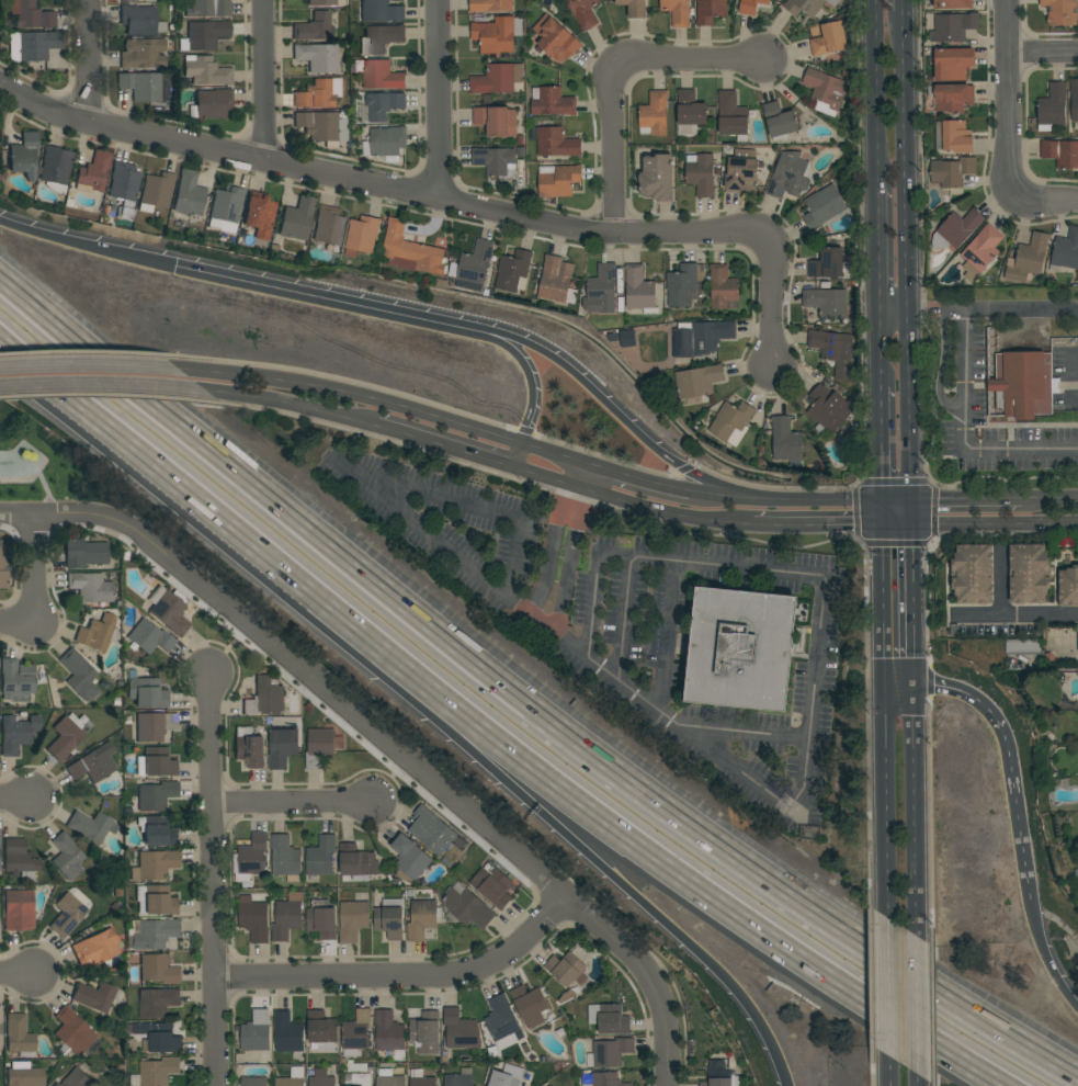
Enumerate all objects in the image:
building: (127, 0)
building: (322, 2)
building: (953, 3)
building: (490, 5)
building: (750, 5)
road: (903, 5)
building: (806, 7)
building: (634, 8)
building: (209, 9)
building: (381, 11)
building: (710, 11)
building: (583, 12)
building: (677, 12)
building: (1060, 12)
building: (33, 15)
building: (140, 20)
building: (314, 27)
building: (953, 27)
building: (204, 35)
building: (496, 35)
building: (835, 36)
building: (381, 38)
building: (556, 39)
building: (32, 45)
building: (143, 54)
road: (1043, 54)
building: (317, 57)
road: (693, 58)
road: (88, 63)
building: (953, 64)
building: (206, 71)
building: (378, 75)
building: (497, 79)
road: (264, 80)
building: (146, 86)
building: (826, 90)
road: (1008, 91)
building: (319, 93)
road: (875, 94)
building: (951, 98)
building: (1074, 99)
road: (438, 100)
building: (552, 102)
building: (214, 103)
building: (383, 105)
building: (1052, 108)
building: (690, 109)
building: (654, 114)
building: (733, 116)
building: (496, 121)
building: (780, 122)
building: (324, 126)
building: (953, 137)
building: (385, 143)
building: (554, 143)
road: (615, 146)
building: (1060, 152)
building: (24, 155)
building: (496, 161)
building: (56, 168)
building: (93, 172)
building: (741, 172)
building: (951, 172)
building: (700, 173)
building: (788, 176)
building: (657, 178)
building: (558, 180)
building: (124, 183)
road: (381, 186)
building: (156, 192)
building: (189, 194)
road: (1040, 201)
building: (822, 206)
building: (226, 210)
building: (260, 214)
building: (297, 219)
building: (329, 226)
building: (955, 229)
building: (362, 236)
road: (88, 247)
building: (983, 248)
building: (1066, 250)
building: (411, 251)
road: (878, 251)
building: (1028, 258)
road: (908, 259)
building: (827, 264)
building: (475, 265)
building: (513, 272)
building: (557, 280)
building: (683, 284)
building: (723, 287)
building: (601, 291)
building: (639, 291)
road: (317, 296)
building: (827, 303)
road: (772, 307)
road: (978, 310)
building: (701, 339)
road: (880, 350)
building: (833, 351)
road: (523, 369)
road: (939, 369)
road: (92, 371)
building: (697, 384)
building: (1023, 385)
road: (86, 388)
road: (111, 395)
road: (355, 397)
road: (272, 406)
road: (617, 407)
building: (827, 410)
building: (731, 422)
road: (965, 433)
road: (384, 438)
road: (127, 440)
building: (785, 440)
road: (882, 445)
road: (443, 448)
road: (551, 459)
road: (517, 460)
park: (47, 463)
road: (589, 472)
road: (542, 478)
road: (576, 478)
road: (934, 478)
road: (643, 488)
road: (388, 495)
road: (574, 497)
road: (1049, 502)
road: (568, 504)
road: (730, 504)
road: (967, 504)
road: (828, 506)
road: (898, 506)
traffic signals: (915, 506)
traffic signals: (883, 507)
road: (661, 516)
road: (883, 518)
road: (915, 518)
road: (818, 527)
road: (996, 529)
road: (898, 530)
traffic signals: (915, 531)
road: (729, 535)
building: (84, 554)
building: (2, 568)
road: (35, 568)
road: (545, 569)
road: (565, 574)
building: (973, 574)
building: (1029, 574)
road: (1002, 585)
building: (90, 587)
building: (1068, 587)
road: (914, 595)
road: (883, 606)
building: (169, 610)
road: (1017, 618)
road: (624, 619)
road: (18, 622)
building: (98, 633)
road: (663, 634)
building: (1077, 635)
building: (148, 638)
road: (818, 640)
building: (1023, 647)
building: (740, 648)
road: (299, 665)
road: (914, 670)
building: (80, 676)
building: (16, 680)
road: (898, 681)
road: (964, 692)
building: (147, 693)
building: (265, 697)
road: (520, 701)
road: (866, 716)
building: (155, 726)
building: (16, 733)
building: (67, 736)
building: (322, 746)
building: (282, 747)
building: (249, 748)
building: (159, 762)
building: (88, 767)
road: (453, 777)
road: (764, 793)
building: (157, 796)
road: (18, 797)
road: (885, 800)
road: (293, 803)
road: (912, 805)
road: (534, 806)
road: (1019, 807)
road: (930, 821)
building: (91, 826)
building: (157, 830)
road: (617, 830)
building: (436, 836)
building: (67, 857)
building: (320, 857)
building: (18, 858)
building: (250, 858)
building: (285, 858)
building: (410, 860)
building: (358, 862)
building: (155, 864)
building: (1076, 873)
road: (213, 879)
building: (492, 885)
building: (156, 901)
building: (467, 907)
building: (19, 910)
building: (67, 915)
building: (253, 918)
building: (286, 919)
building: (321, 919)
building: (353, 919)
building: (389, 919)
building: (422, 919)
building: (150, 934)
building: (95, 949)
road: (1047, 950)
road: (871, 968)
building: (159, 969)
building: (565, 969)
road: (18, 974)
road: (648, 974)
road: (405, 976)
building: (94, 996)
road: (885, 999)
building: (157, 1002)
road: (915, 1004)
building: (531, 1005)
road: (932, 1011)
building: (501, 1018)
building: (609, 1019)
building: (0, 1027)
building: (456, 1029)
building: (322, 1030)
building: (72, 1032)
building: (256, 1032)
building: (425, 1032)
building: (287, 1033)
building: (356, 1033)
building: (19, 1034)
building: (389, 1034)
building: (158, 1038)
building: (511, 1038)
building: (610, 1053)
road: (872, 1062)
building: (156, 1072)
building: (24, 1075)
building: (507, 1077)
building: (75, 1078)
building: (320, 1078)
building: (388, 1078)
building: (419, 1078)
building: (459, 1078)
building: (720, 1078)
building: (358, 1079)
building: (602, 1079)
building: (253, 1082)
building: (290, 1082)
road: (918, 1082)
road: (885, 1083)
road: (933, 1084)
building: (551, 1085)

